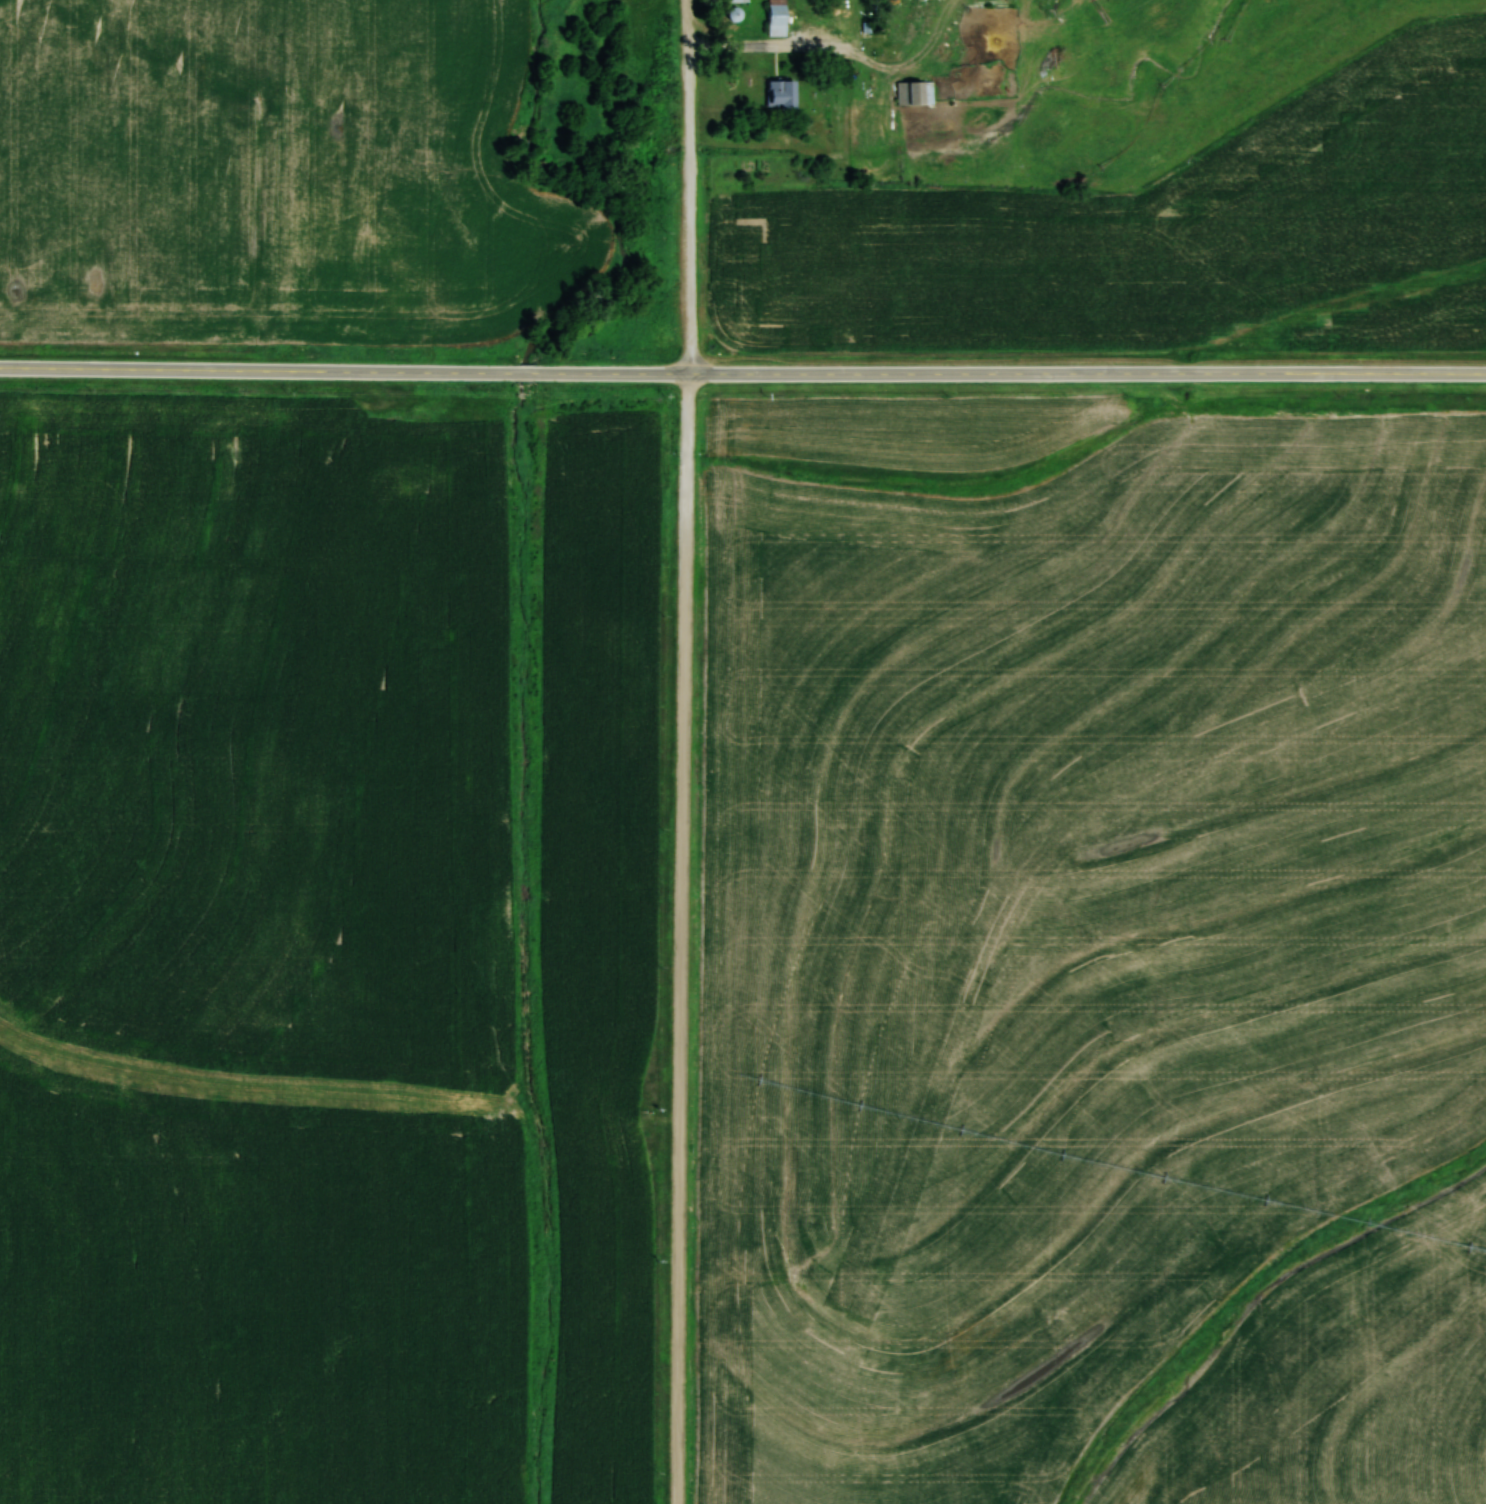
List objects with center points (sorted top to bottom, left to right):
building: (735, 0)
building: (732, 13)
building: (777, 17)
building: (916, 92)
building: (780, 93)
road: (255, 365)
road: (519, 368)
road: (1006, 369)
road: (689, 751)

